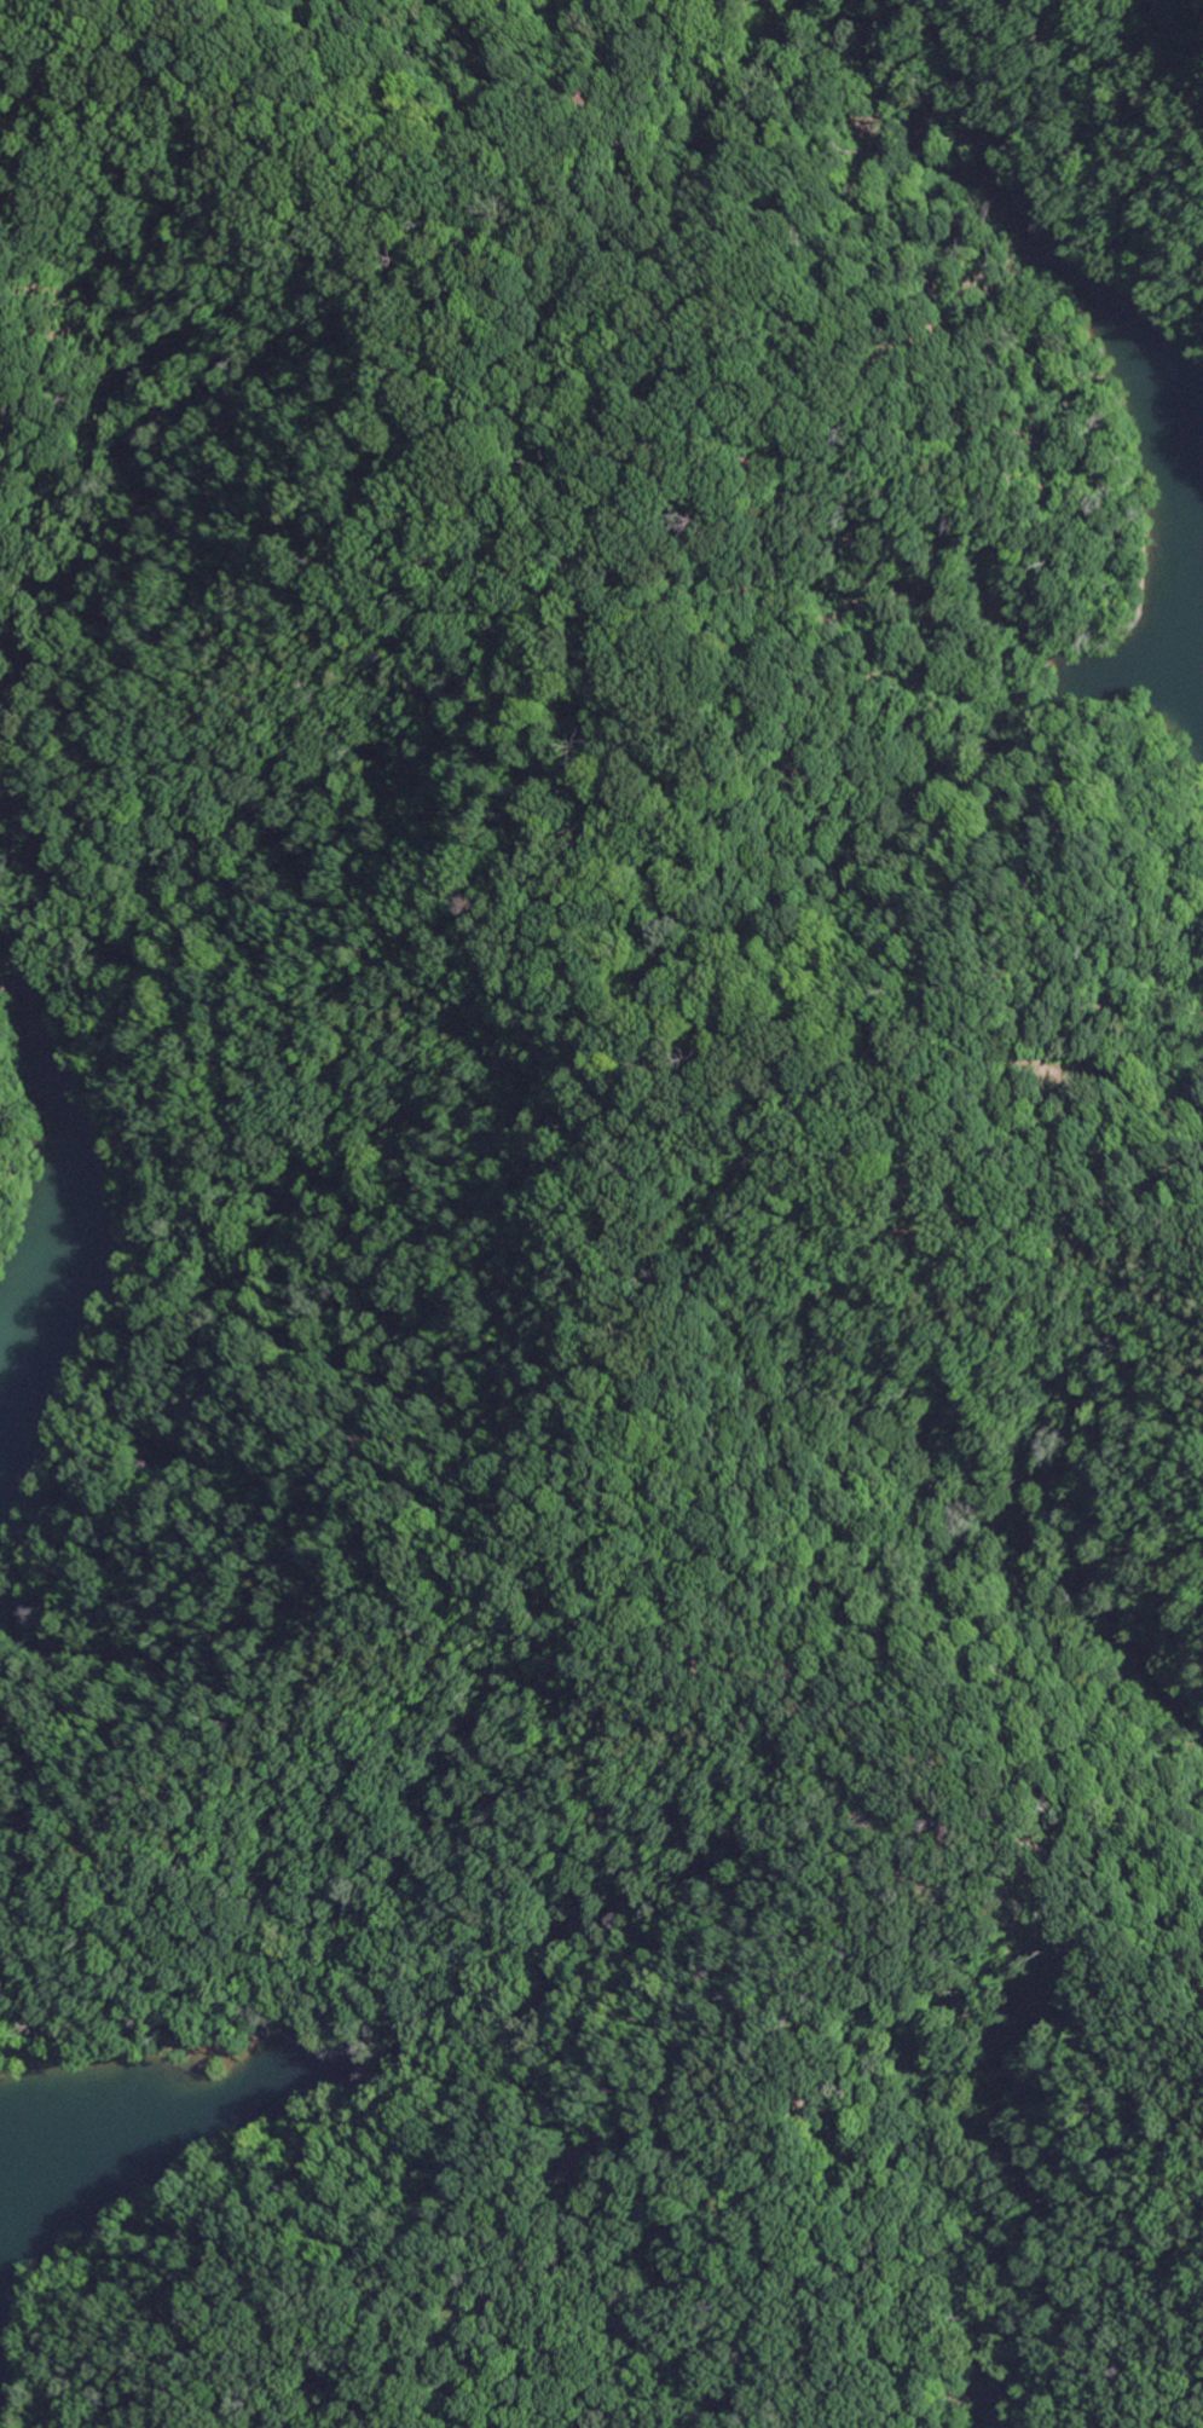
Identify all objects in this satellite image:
park: (605, 71)

